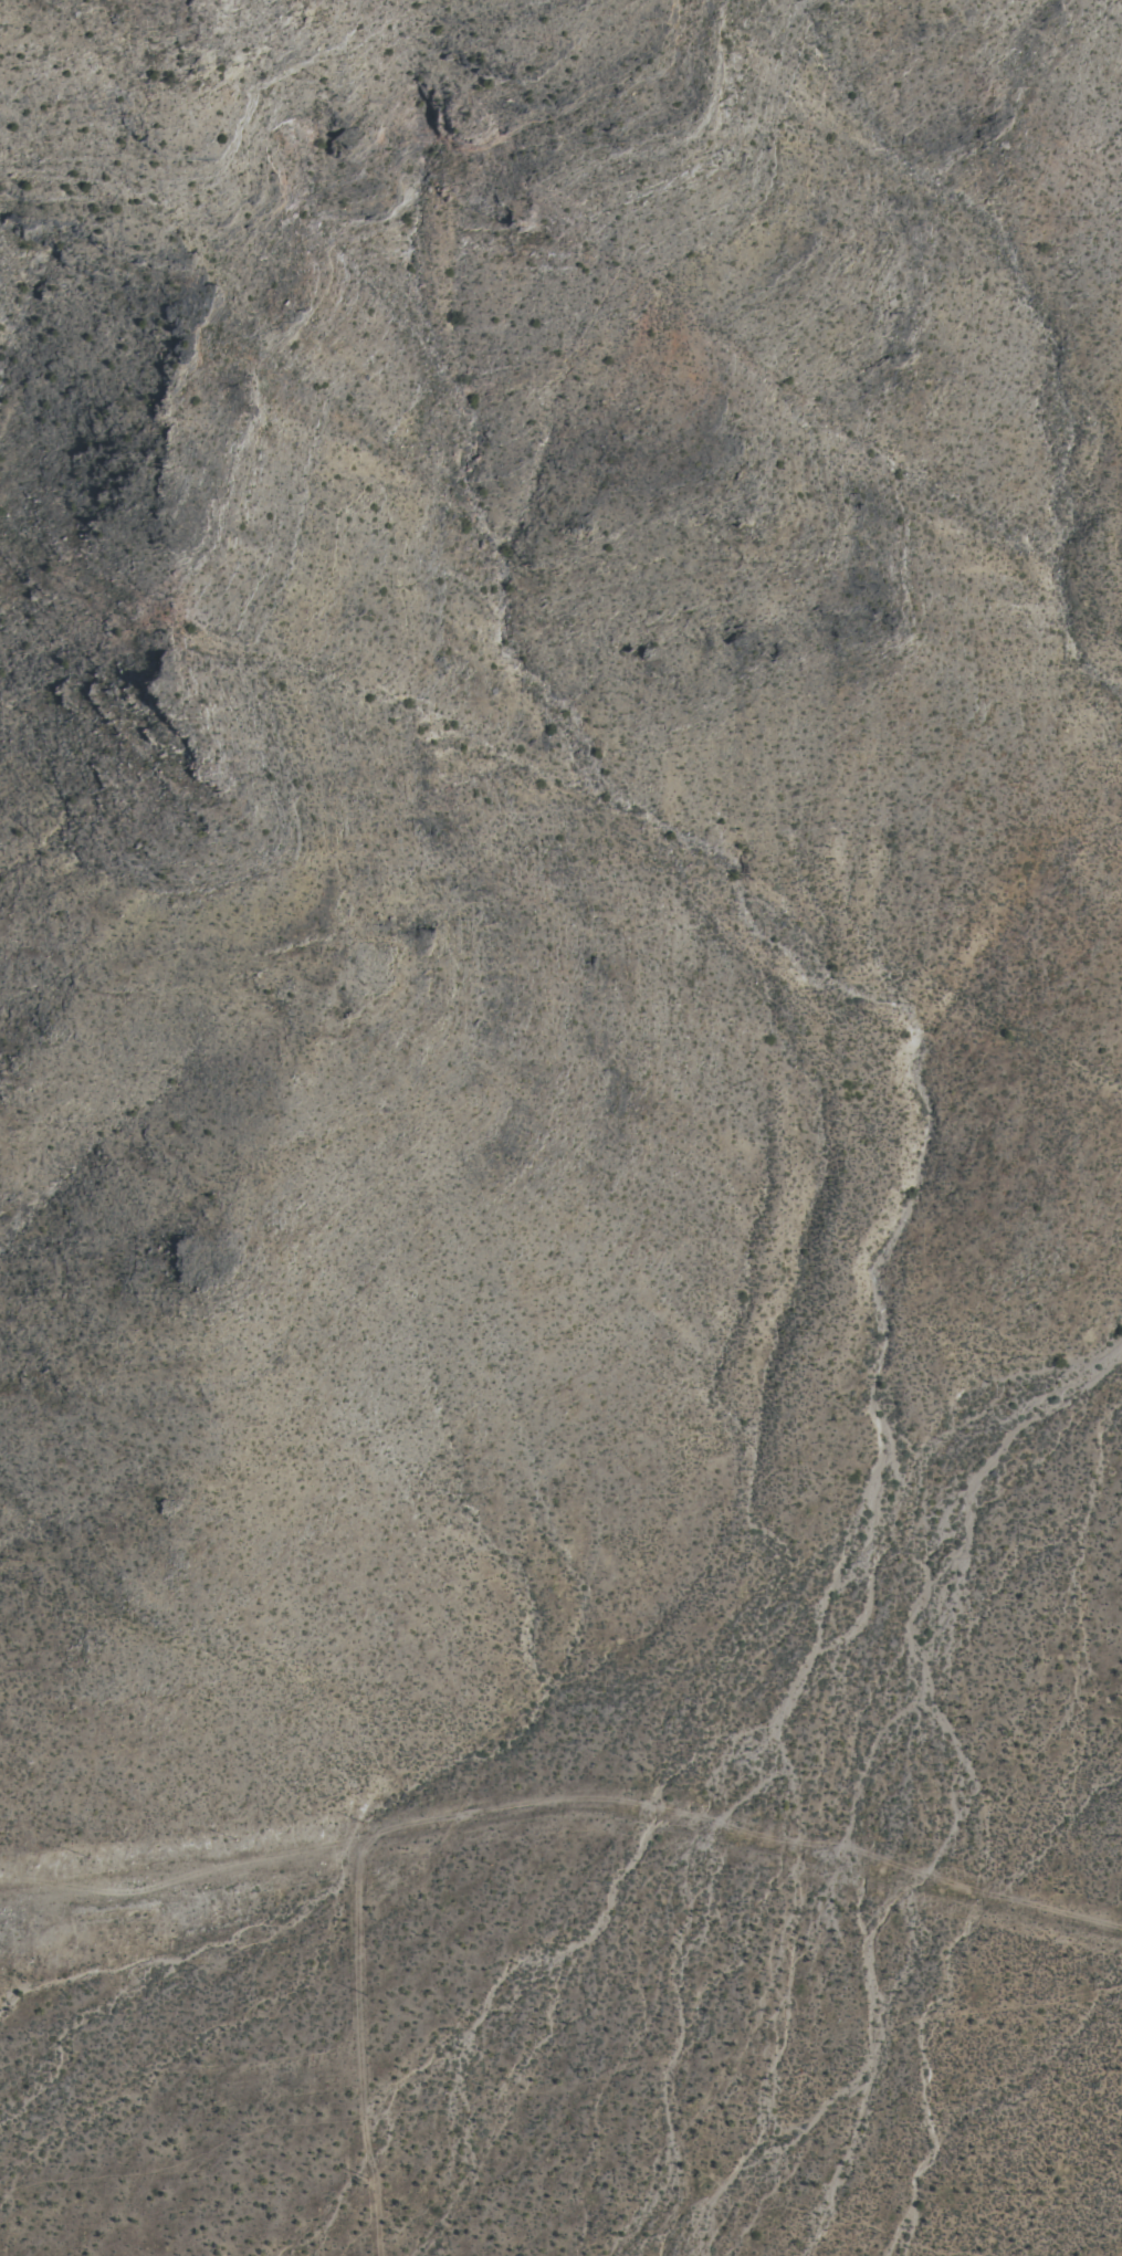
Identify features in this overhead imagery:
road: (533, 1805)
road: (179, 1877)

